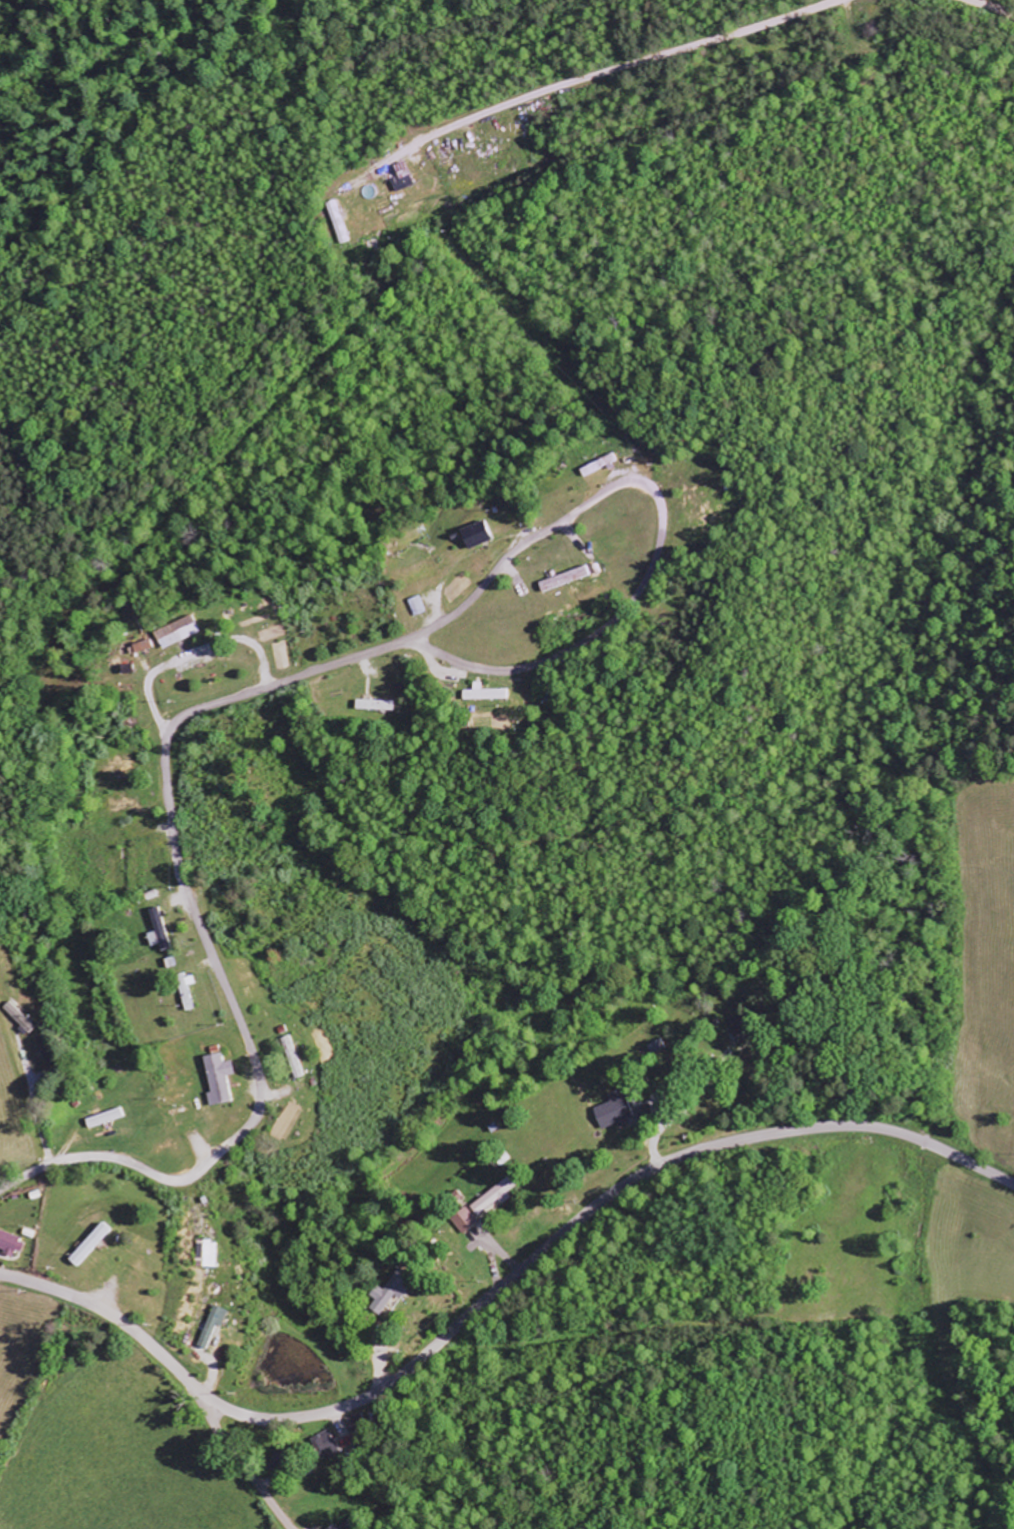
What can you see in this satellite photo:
building: (401, 183)
road: (662, 507)
building: (473, 535)
building: (573, 576)
building: (414, 606)
building: (484, 694)
building: (372, 705)
building: (157, 930)
road: (207, 944)
building: (184, 991)
building: (292, 1057)
building: (216, 1080)
building: (613, 1112)
building: (490, 1199)
building: (464, 1221)
building: (87, 1245)
building: (8, 1246)
building: (207, 1254)
road: (496, 1292)
building: (387, 1293)
building: (211, 1326)
road: (237, 1454)

